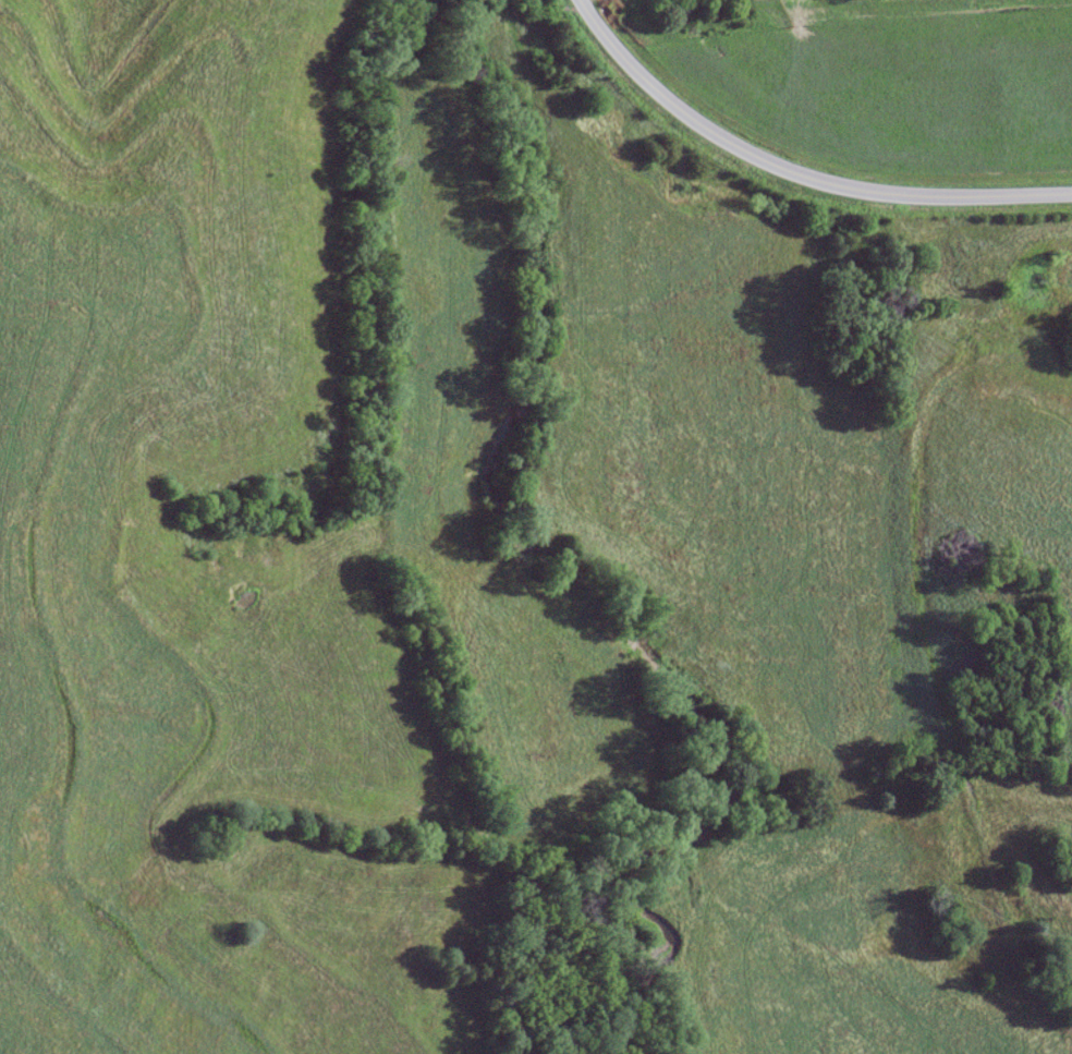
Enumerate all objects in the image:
road: (793, 174)

